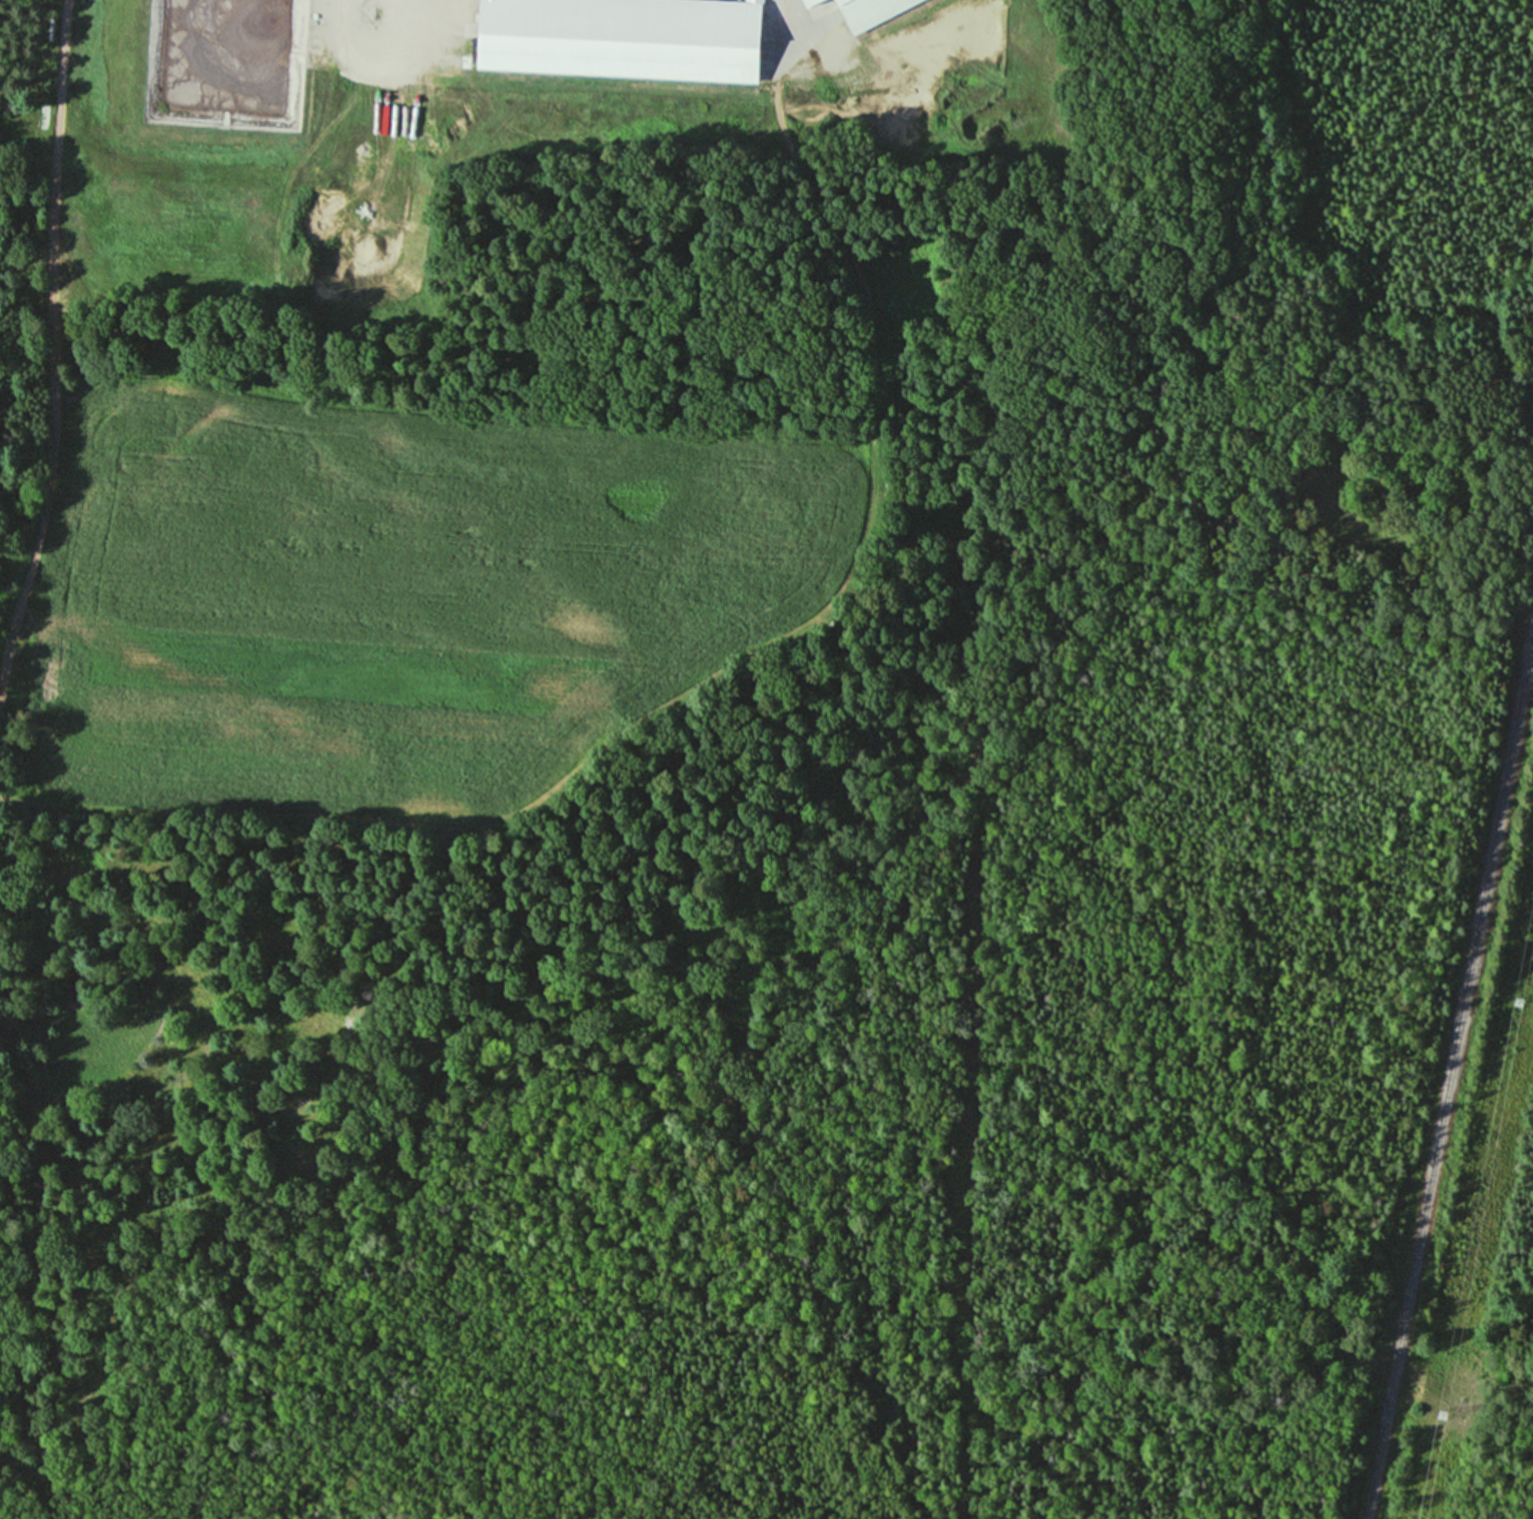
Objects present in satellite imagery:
power tower: (1517, 1002)
railway: (1449, 1076)
power tower: (1440, 1412)

